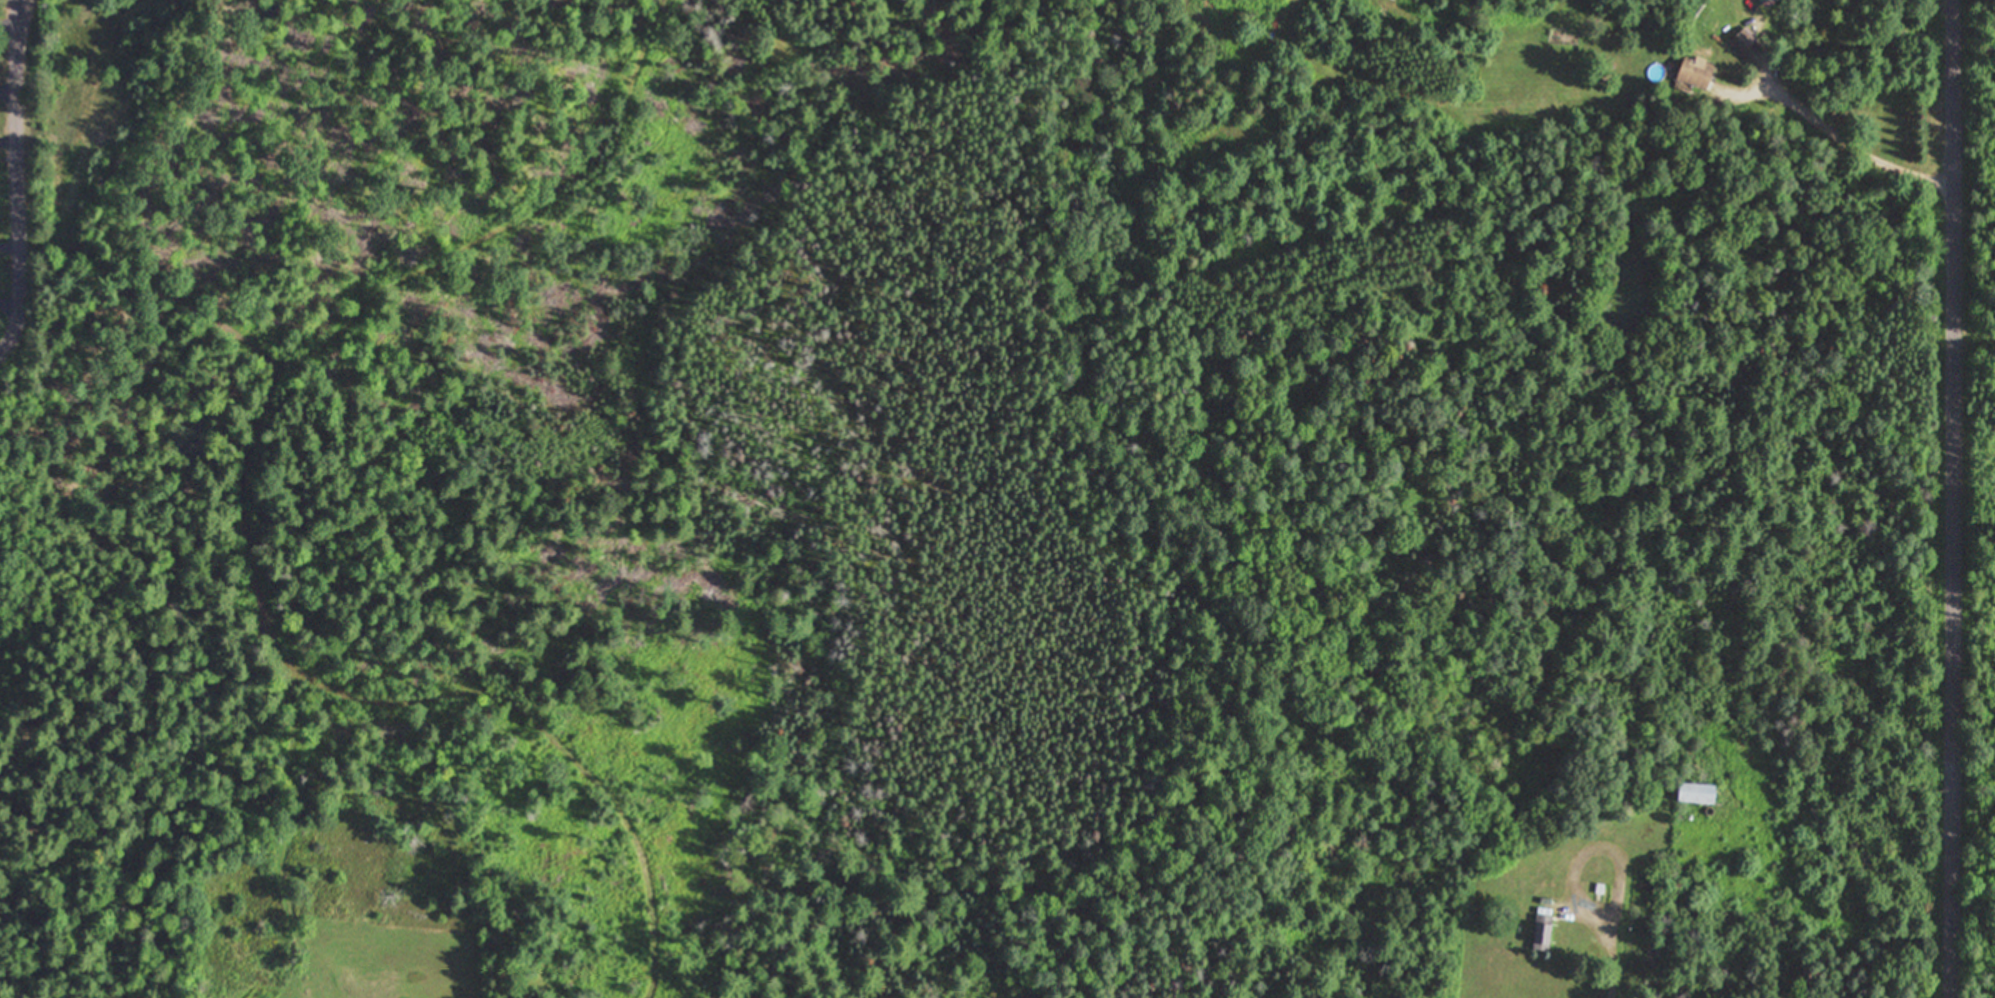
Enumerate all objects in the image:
building: (1745, 44)
building: (1696, 71)
road: (21, 170)
road: (1958, 498)
building: (1698, 793)
building: (1543, 932)

